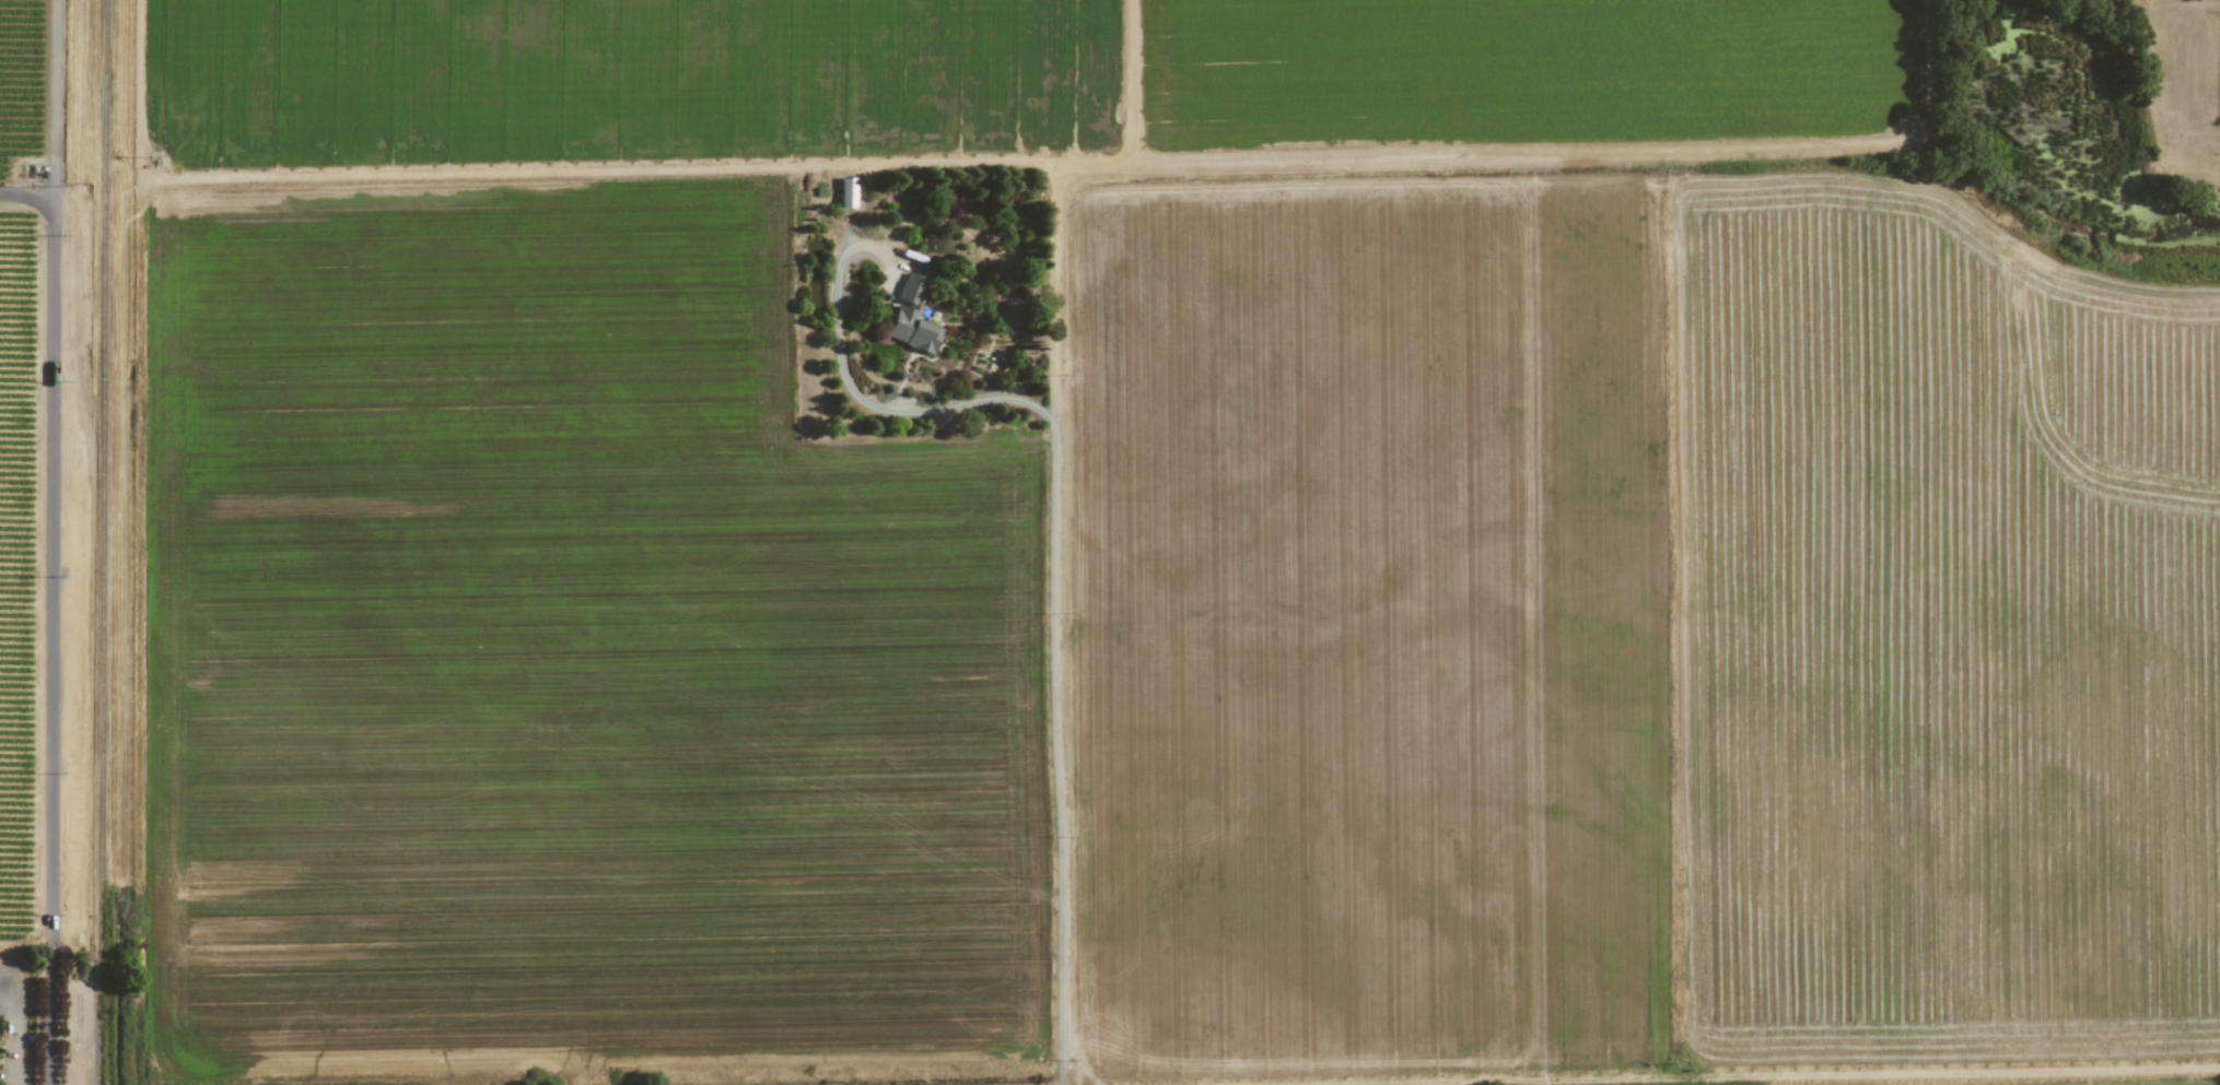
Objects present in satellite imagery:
road: (56, 98)
building: (846, 191)
road: (27, 196)
building: (911, 316)
road: (1053, 551)
road: (51, 640)
road: (14, 1028)

